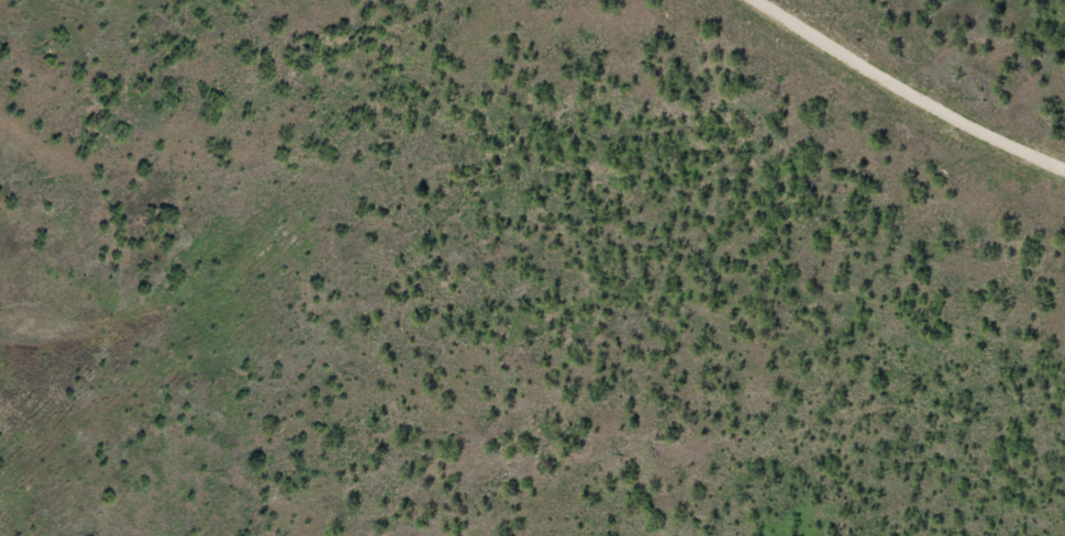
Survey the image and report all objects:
road: (919, 79)

